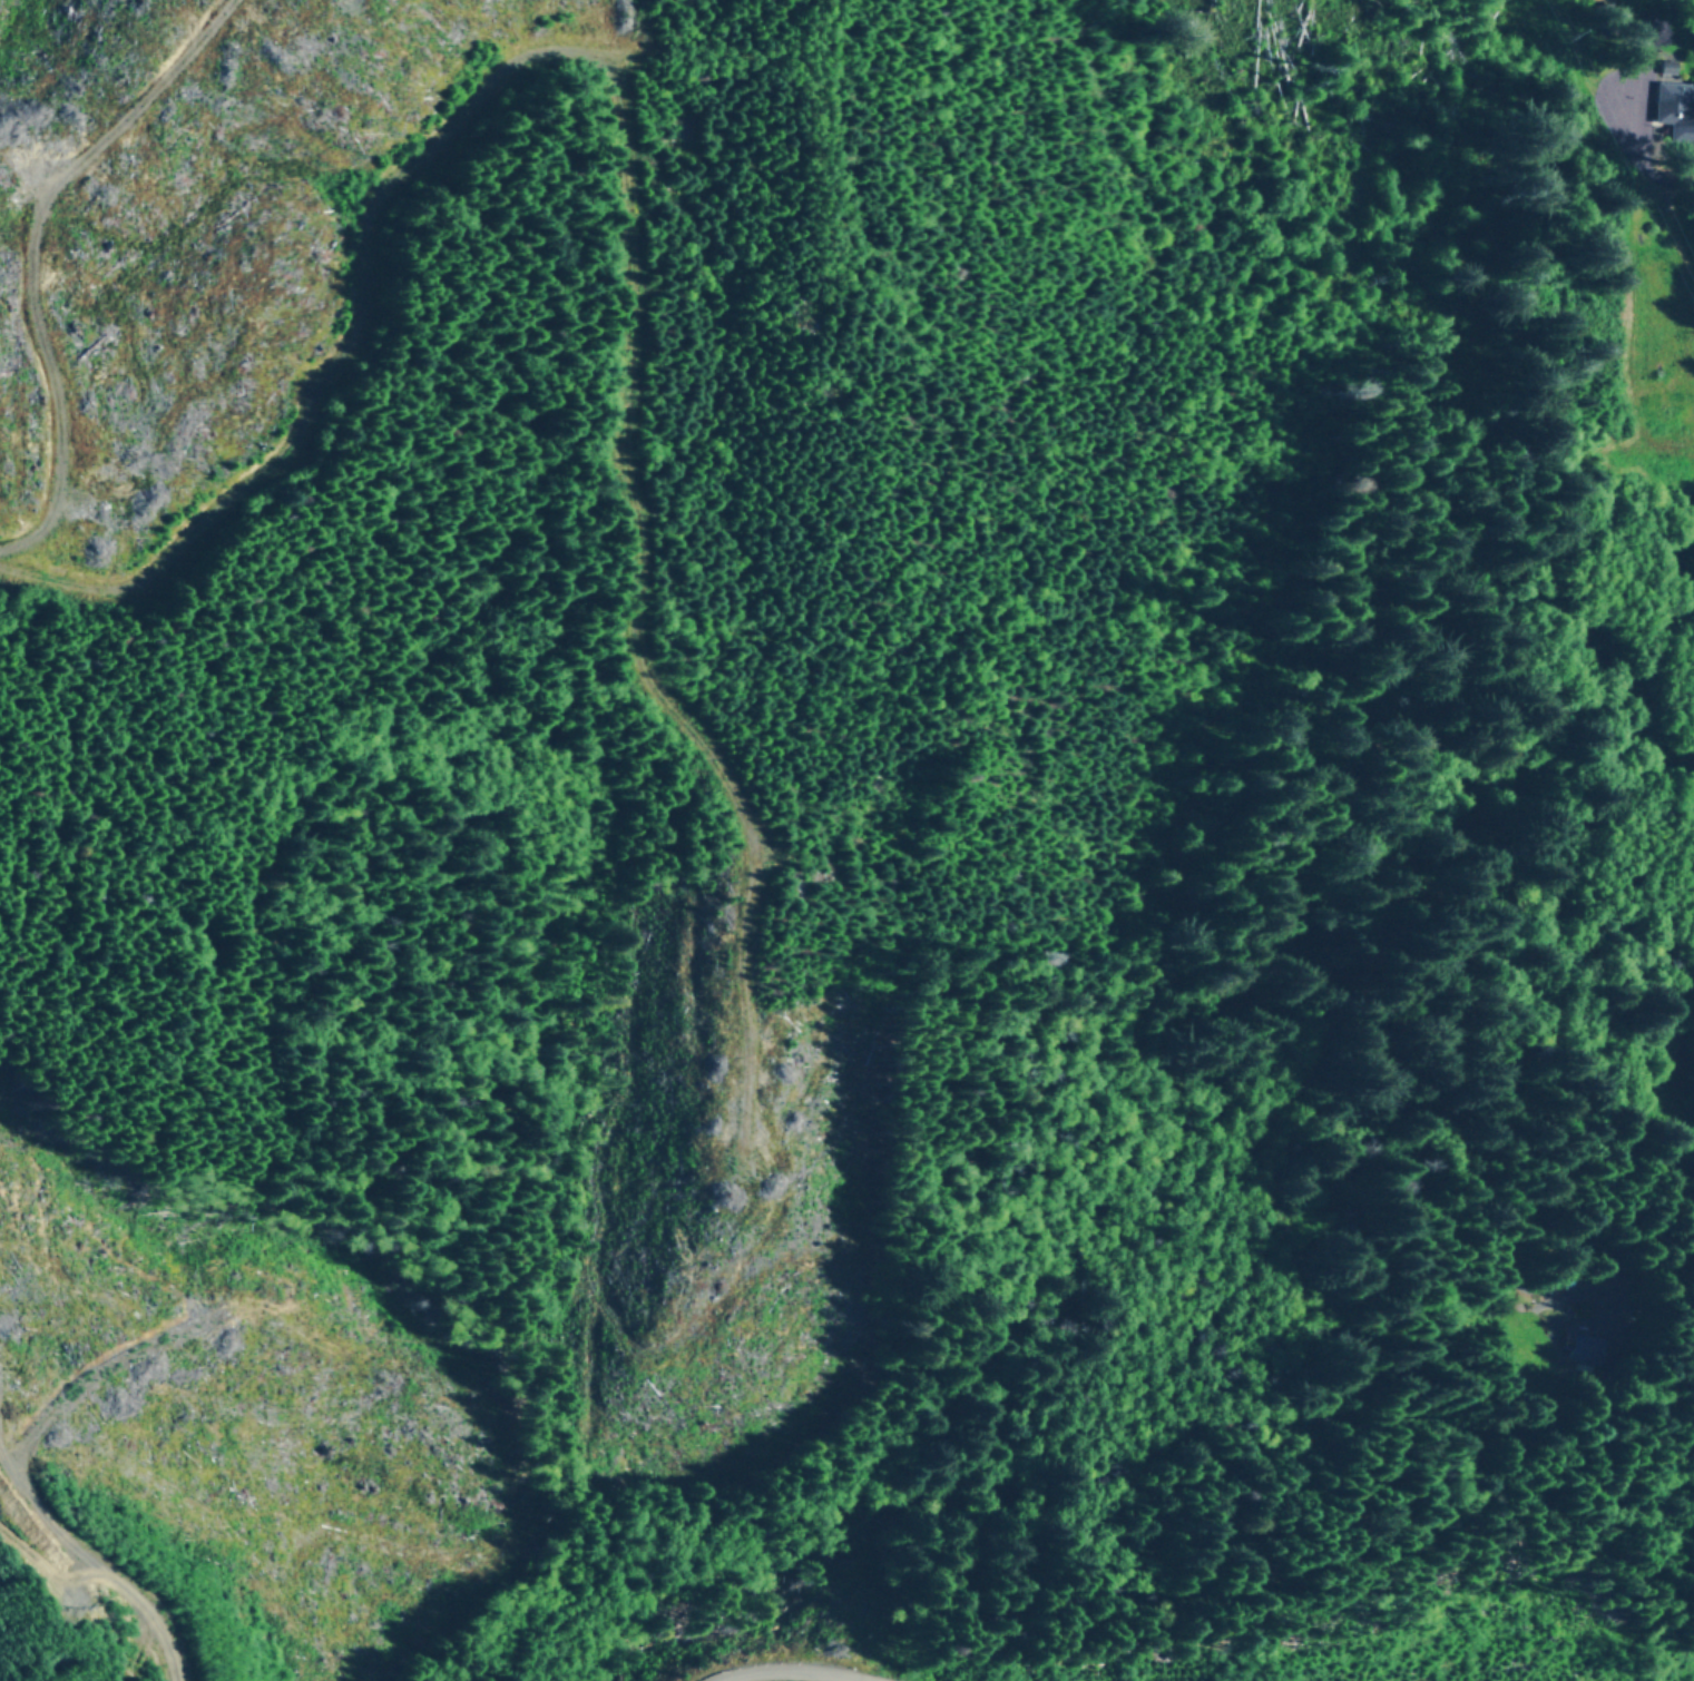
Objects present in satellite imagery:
building: (1672, 98)
road: (360, 215)
road: (57, 256)
road: (1680, 263)
road: (94, 1564)
quarry: (92, 1580)
road: (797, 1657)

